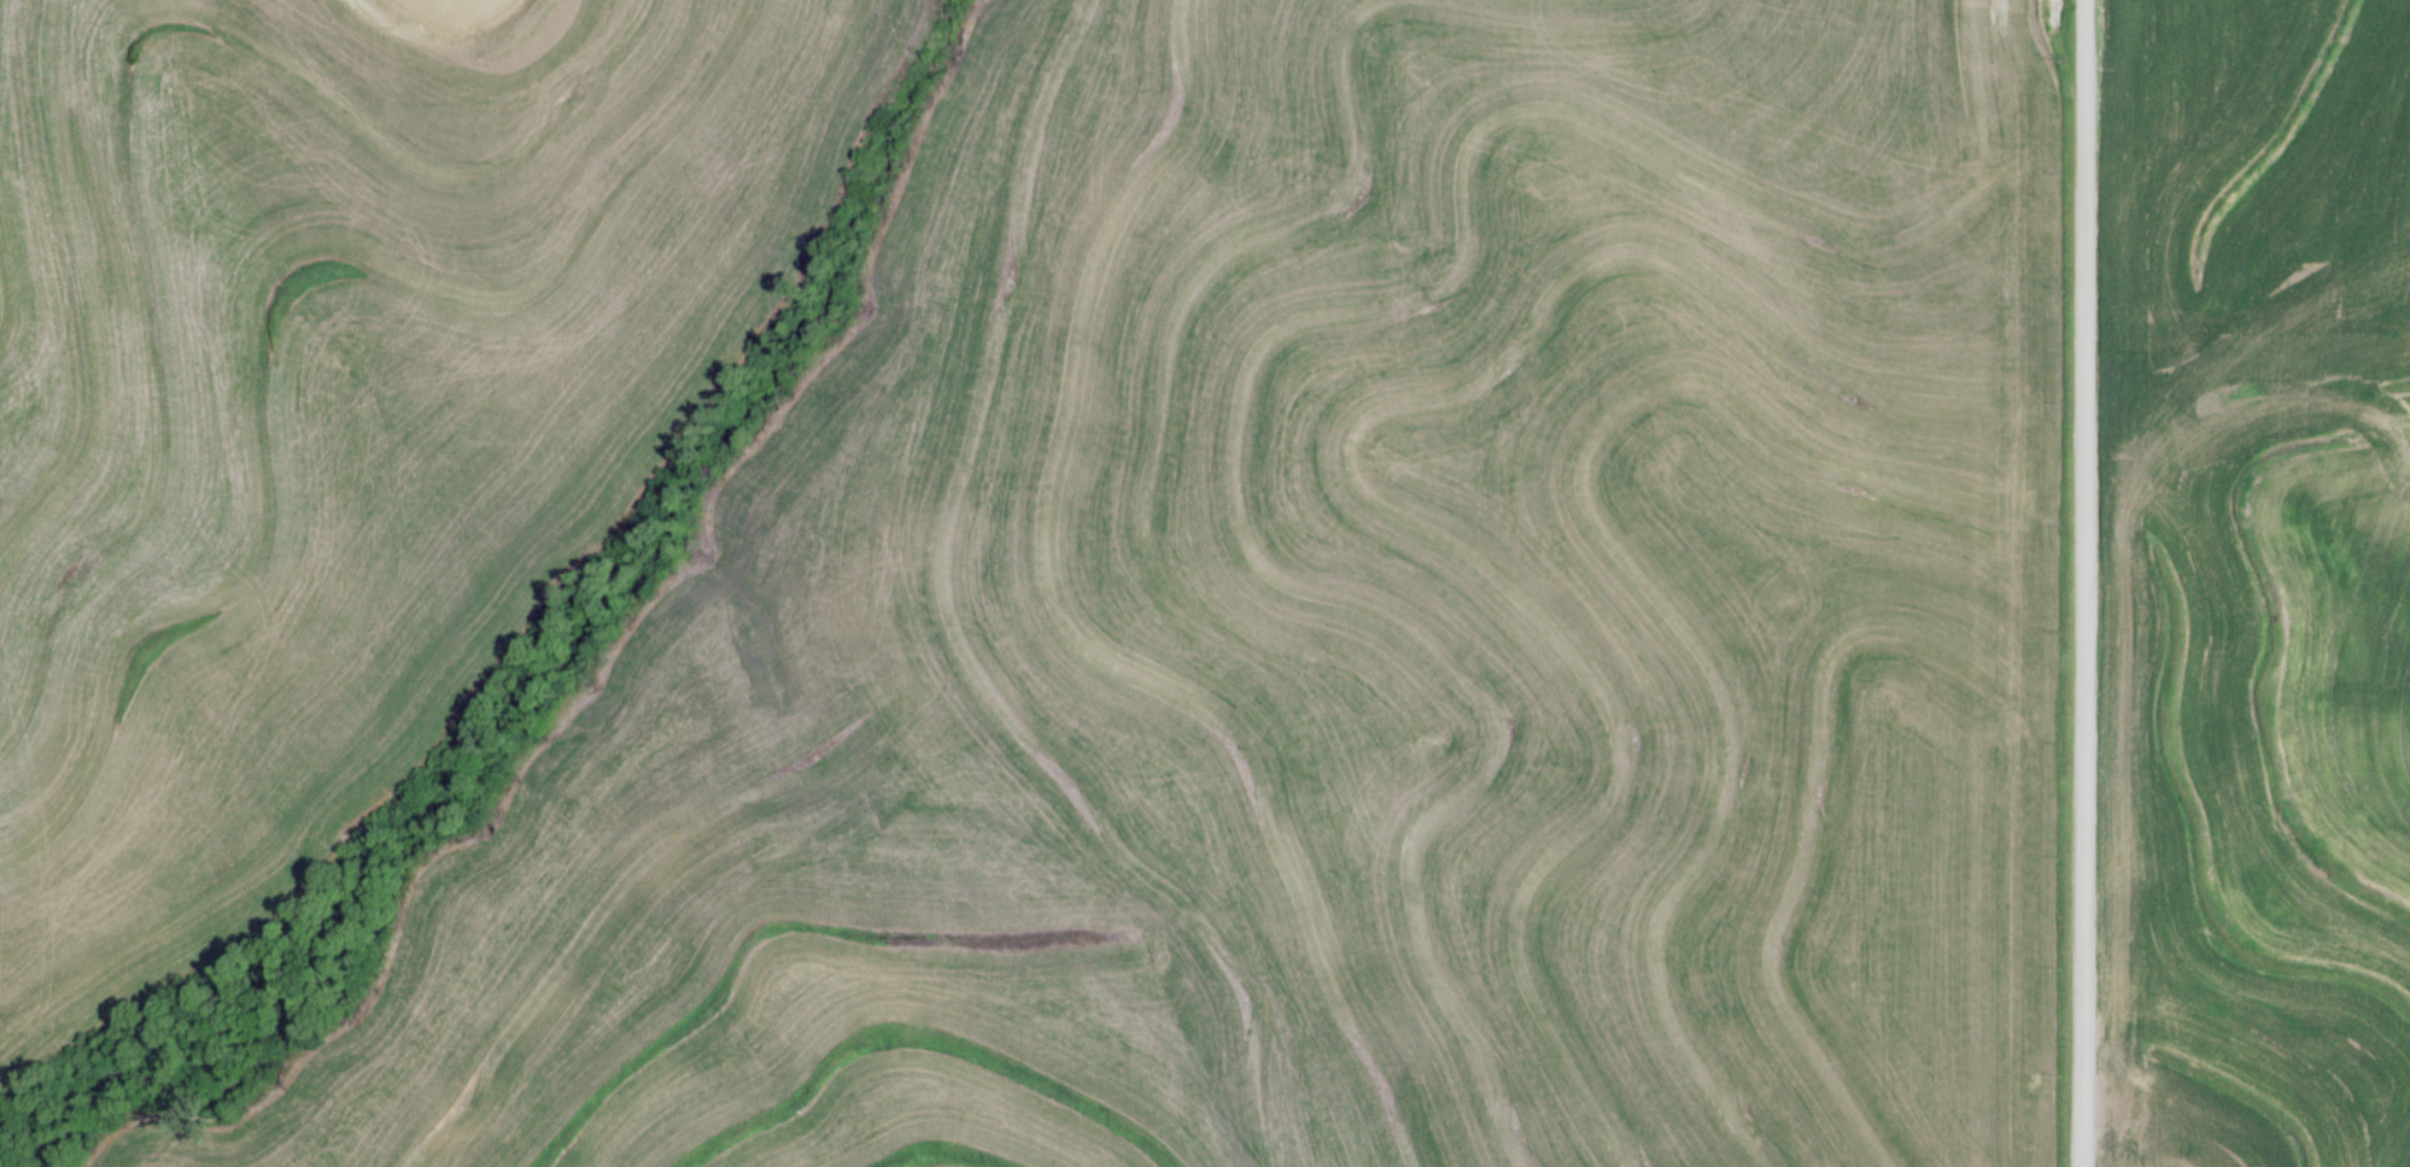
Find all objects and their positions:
road: (2053, 583)

